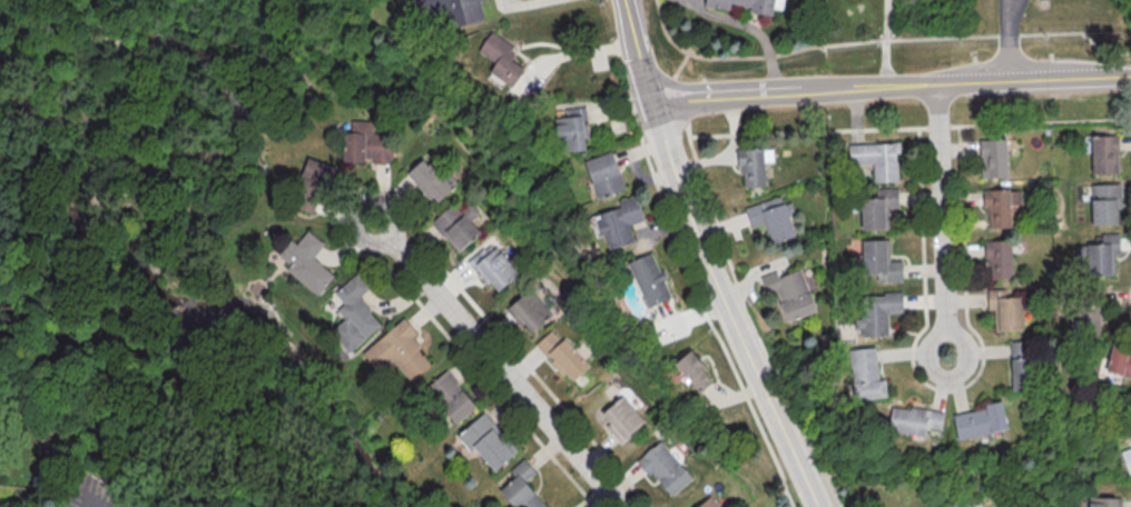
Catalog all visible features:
road: (521, 3)
building: (748, 4)
building: (448, 11)
road: (630, 30)
road: (645, 38)
road: (879, 39)
road: (1007, 39)
road: (884, 42)
road: (574, 51)
building: (501, 59)
road: (624, 69)
road: (643, 78)
road: (671, 84)
road: (889, 84)
road: (655, 113)
building: (572, 128)
road: (832, 130)
road: (662, 131)
building: (366, 142)
building: (1104, 153)
building: (993, 158)
building: (876, 159)
building: (754, 166)
building: (603, 175)
river: (85, 176)
building: (427, 180)
building: (313, 186)
building: (1104, 203)
building: (1002, 207)
building: (877, 208)
building: (770, 218)
road: (943, 219)
building: (619, 221)
building: (453, 227)
building: (1102, 255)
building: (999, 259)
building: (879, 260)
building: (306, 261)
building: (491, 266)
building: (649, 279)
road: (735, 284)
building: (789, 292)
building: (529, 309)
road: (702, 310)
building: (1005, 310)
building: (876, 312)
building: (354, 314)
building: (1089, 321)
road: (735, 322)
building: (397, 350)
building: (560, 355)
building: (1119, 361)
road: (499, 365)
building: (1019, 365)
building: (692, 370)
building: (865, 374)
road: (947, 389)
building: (451, 396)
building: (621, 418)
building: (914, 419)
building: (981, 420)
building: (486, 440)
building: (1127, 458)
building: (663, 468)
building: (521, 487)
parking lot: (96, 494)
building: (1104, 501)
building: (707, 503)
road: (92, 504)

